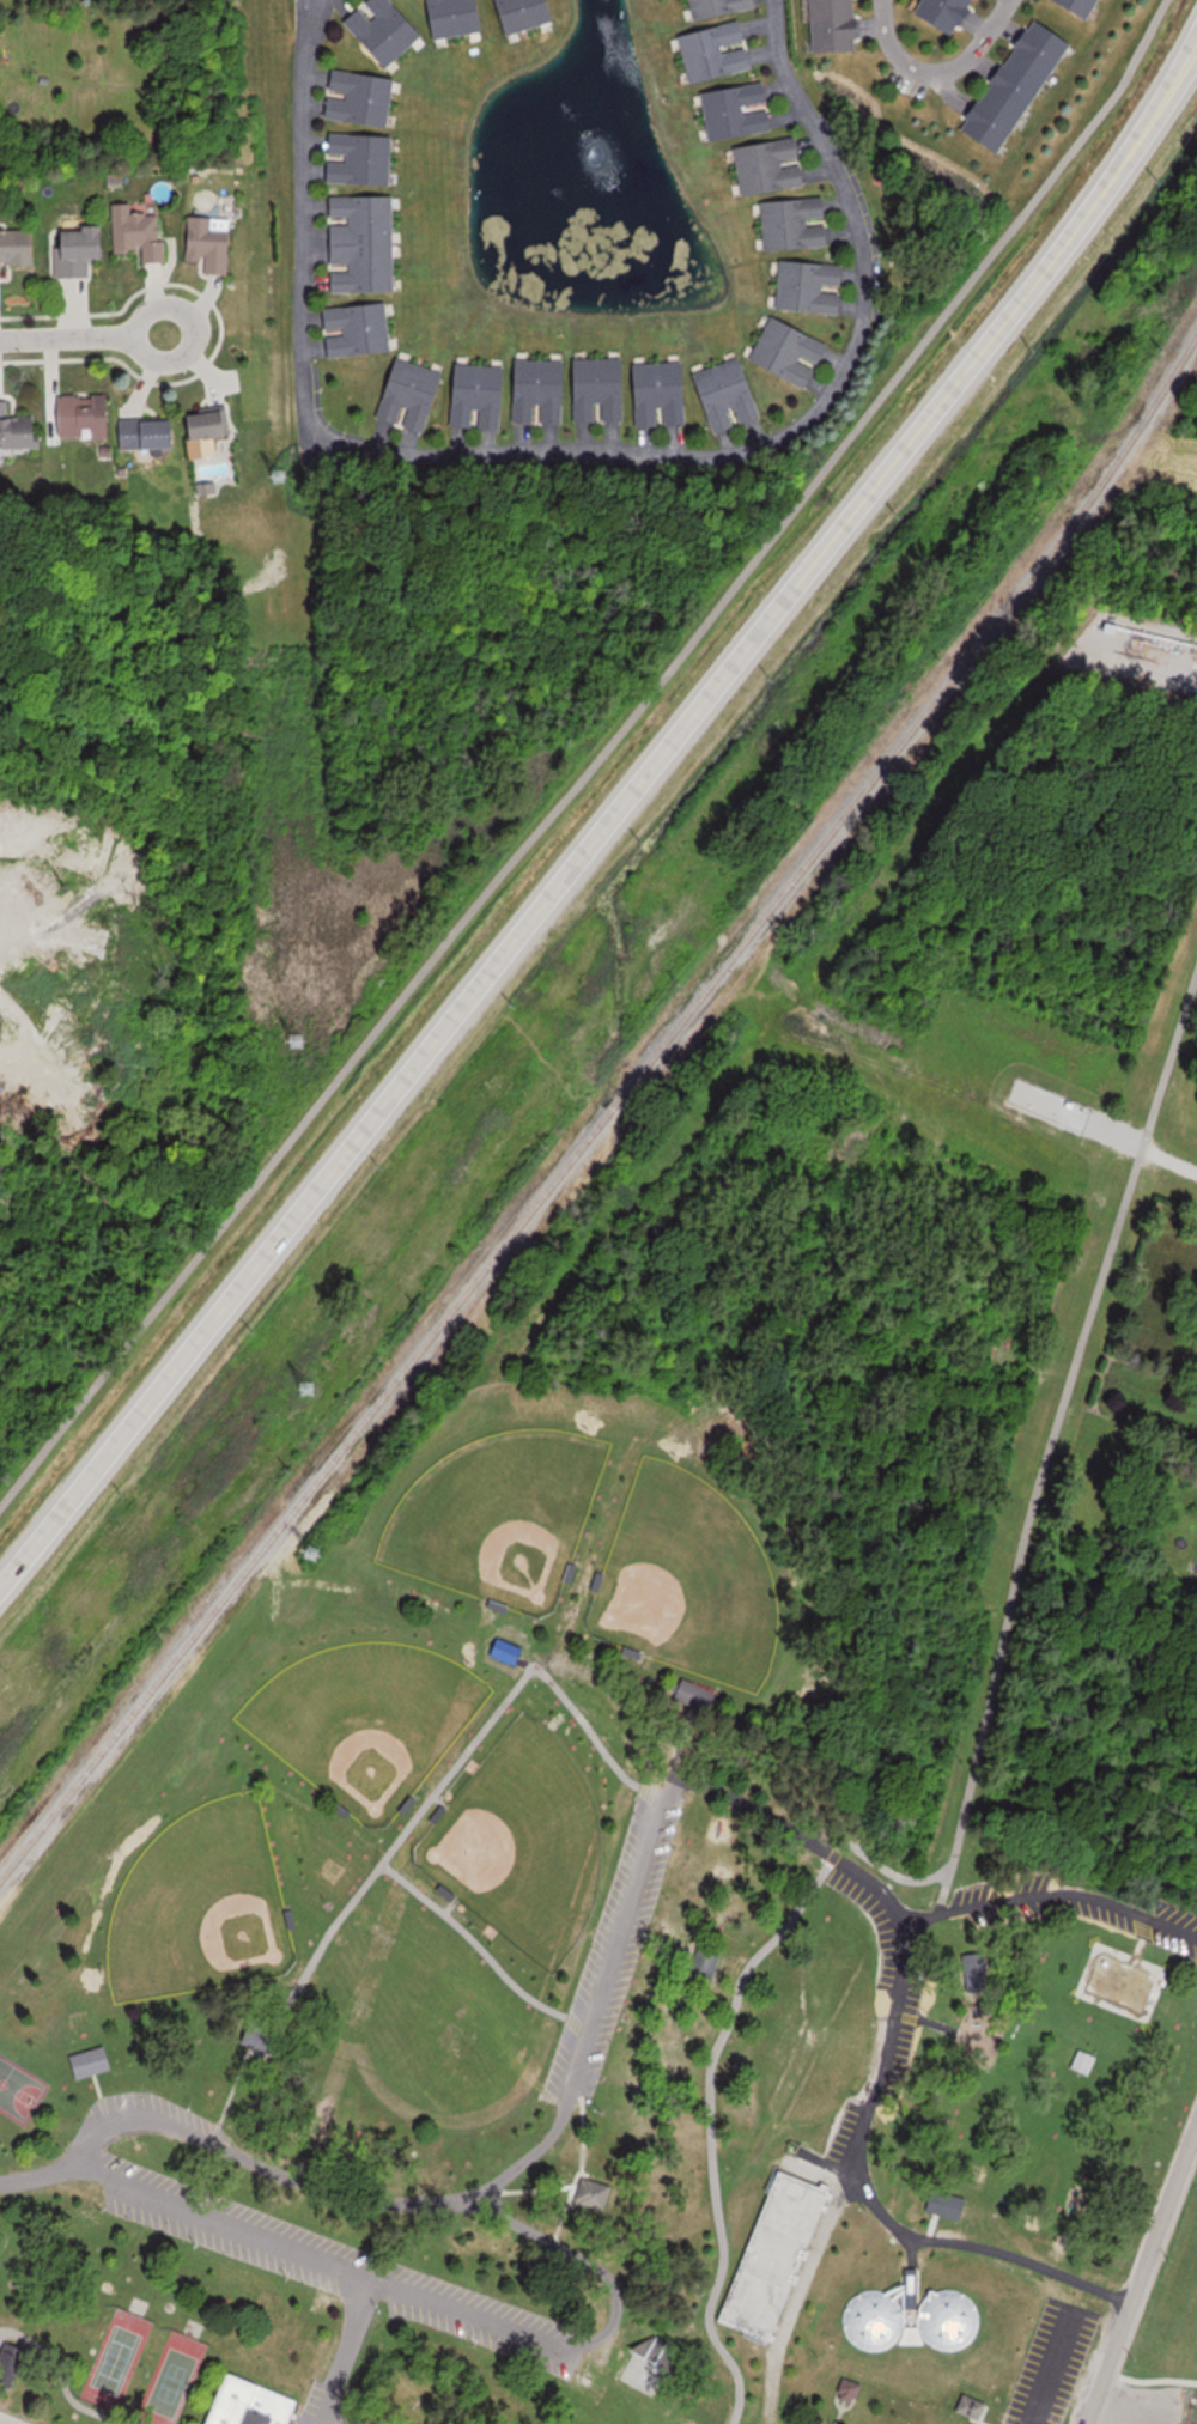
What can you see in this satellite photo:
building: (719, 7)
building: (1082, 7)
building: (527, 16)
building: (457, 18)
building: (385, 30)
building: (717, 53)
road: (937, 74)
building: (1019, 86)
building: (363, 98)
building: (740, 111)
building: (363, 159)
building: (772, 166)
building: (797, 224)
building: (141, 231)
building: (213, 244)
building: (364, 244)
building: (18, 250)
building: (81, 250)
building: (812, 286)
building: (360, 330)
road: (99, 332)
building: (792, 352)
building: (600, 391)
building: (540, 393)
building: (662, 395)
building: (412, 396)
building: (729, 396)
building: (480, 397)
building: (87, 417)
building: (212, 427)
building: (22, 432)
building: (152, 435)
road: (563, 452)
power tower: (275, 482)
road: (596, 763)
road: (609, 820)
power tower: (299, 1047)
power tower: (648, 1092)
railway: (607, 1112)
power tower: (594, 1119)
power tower: (305, 1390)
road: (1044, 1438)
park: (498, 1518)
power tower: (312, 1560)
park: (686, 1582)
building: (500, 1652)
park: (344, 1708)
park: (650, 1851)
road: (1070, 1893)
park: (274, 1904)
building: (988, 1960)
building: (260, 2027)
building: (89, 2055)
building: (1080, 2065)
park: (17, 2089)
road: (862, 2186)
building: (595, 2191)
road: (192, 2205)
building: (944, 2209)
road: (1165, 2213)
building: (776, 2268)
building: (912, 2323)
road: (504, 2335)
road: (1118, 2337)
road: (345, 2351)
building: (658, 2351)
road: (1101, 2380)
building: (847, 2387)
park: (133, 2393)
building: (250, 2399)
road: (1090, 2405)
building: (966, 2411)
park: (74, 2420)

